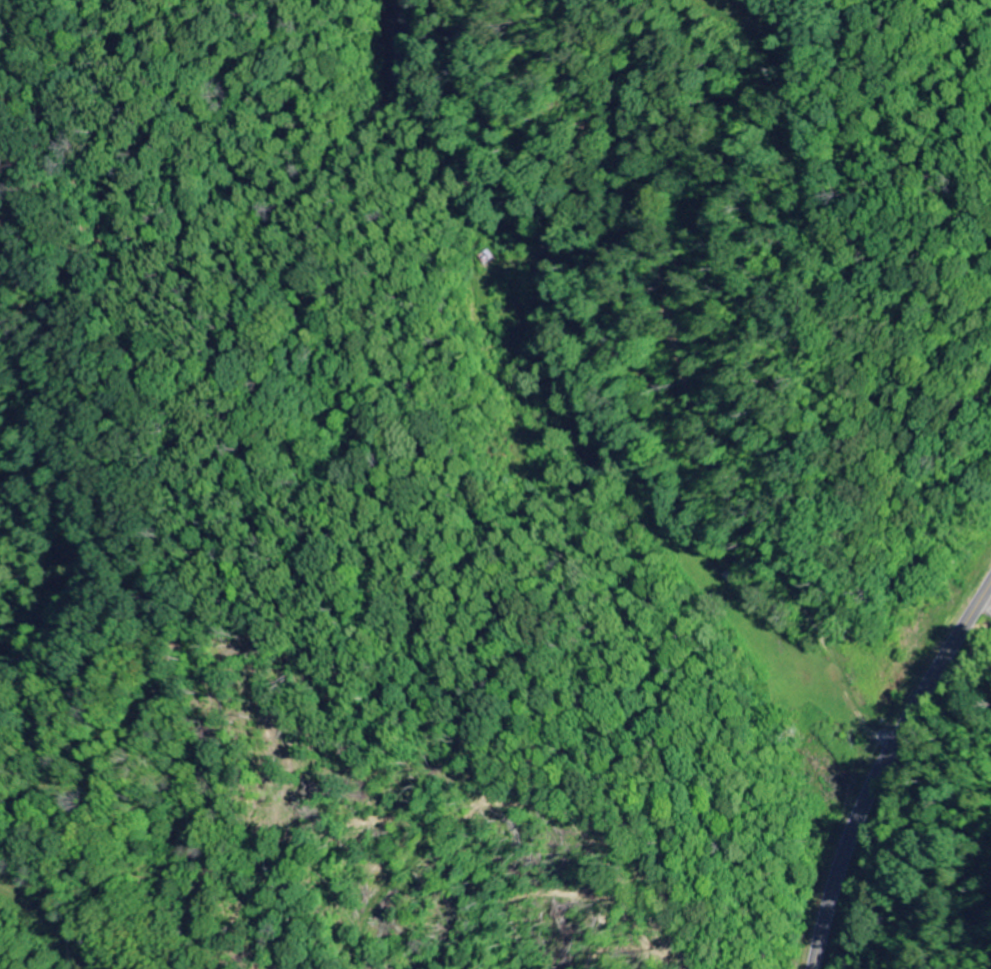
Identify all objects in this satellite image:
road: (897, 739)
road: (818, 937)

